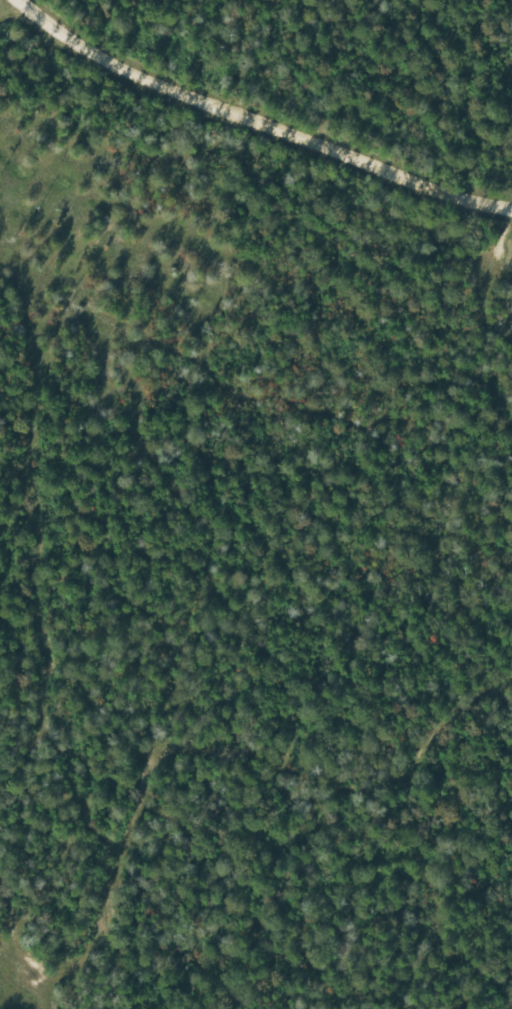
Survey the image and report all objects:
road: (257, 115)

